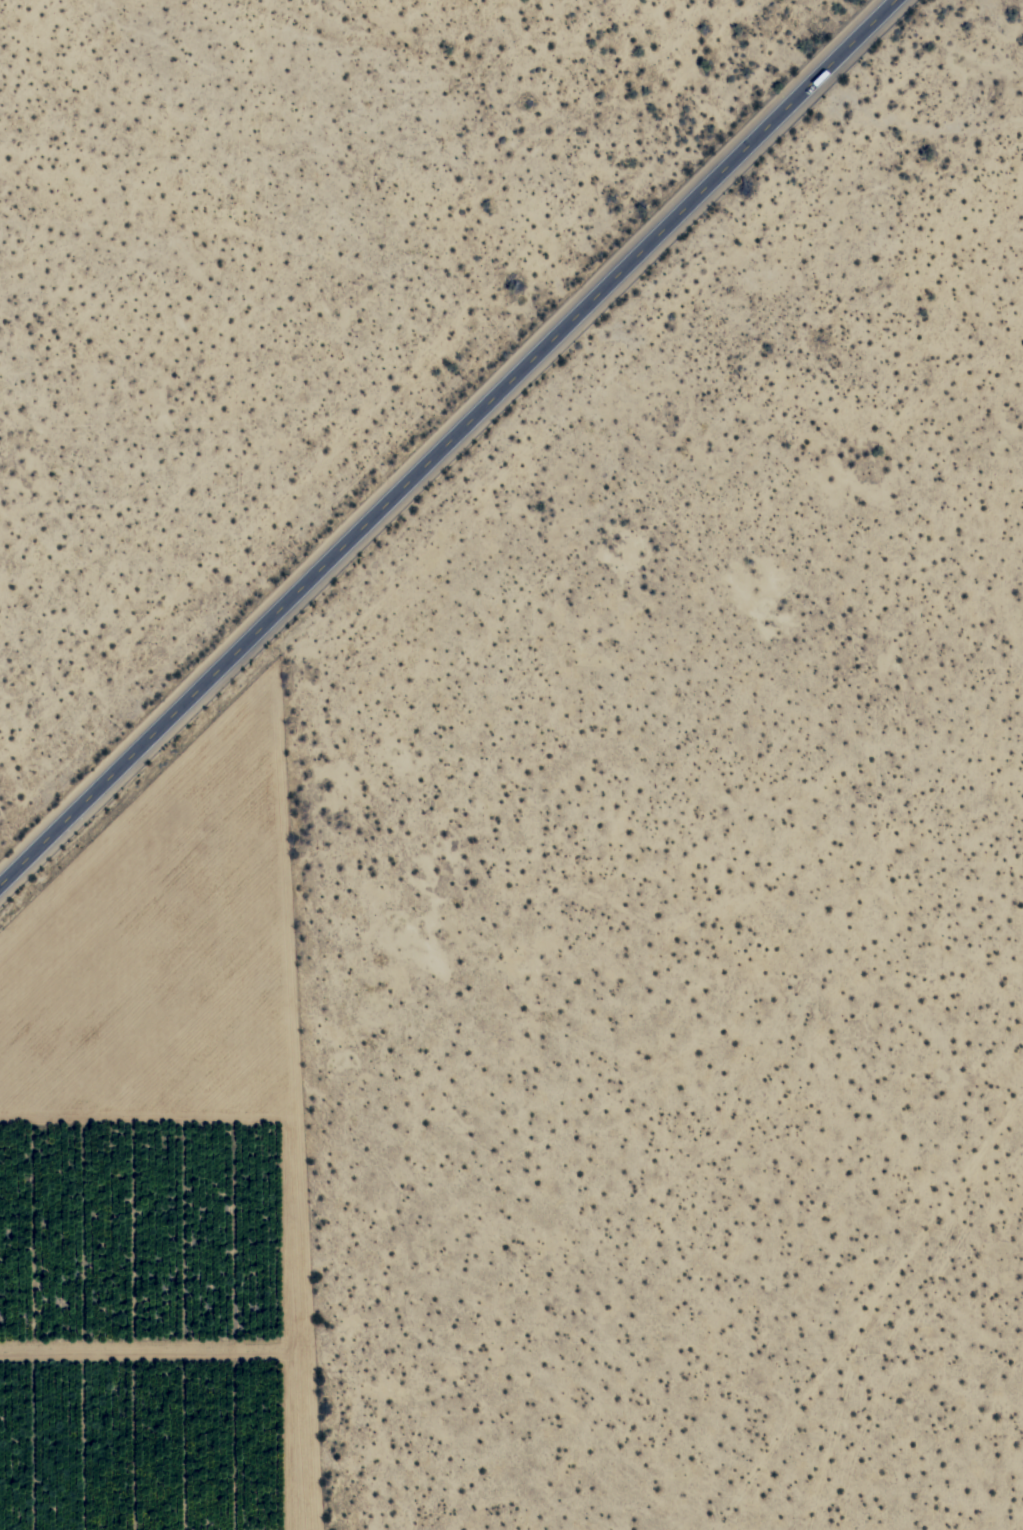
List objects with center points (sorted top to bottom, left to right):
road: (448, 441)
crop: (148, 1329)

